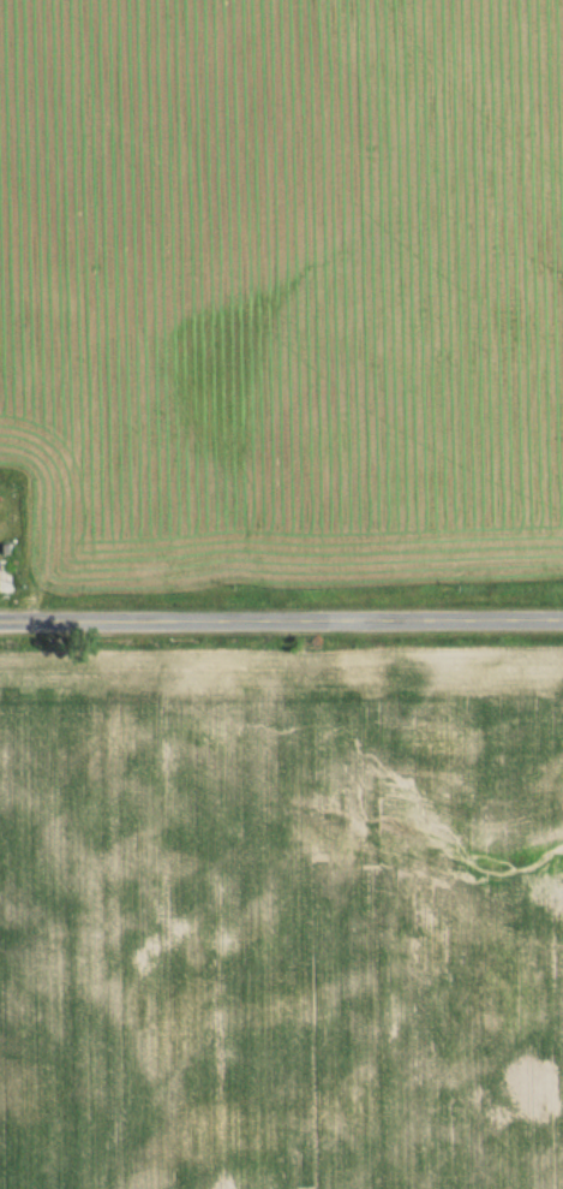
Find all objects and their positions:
road: (281, 606)

